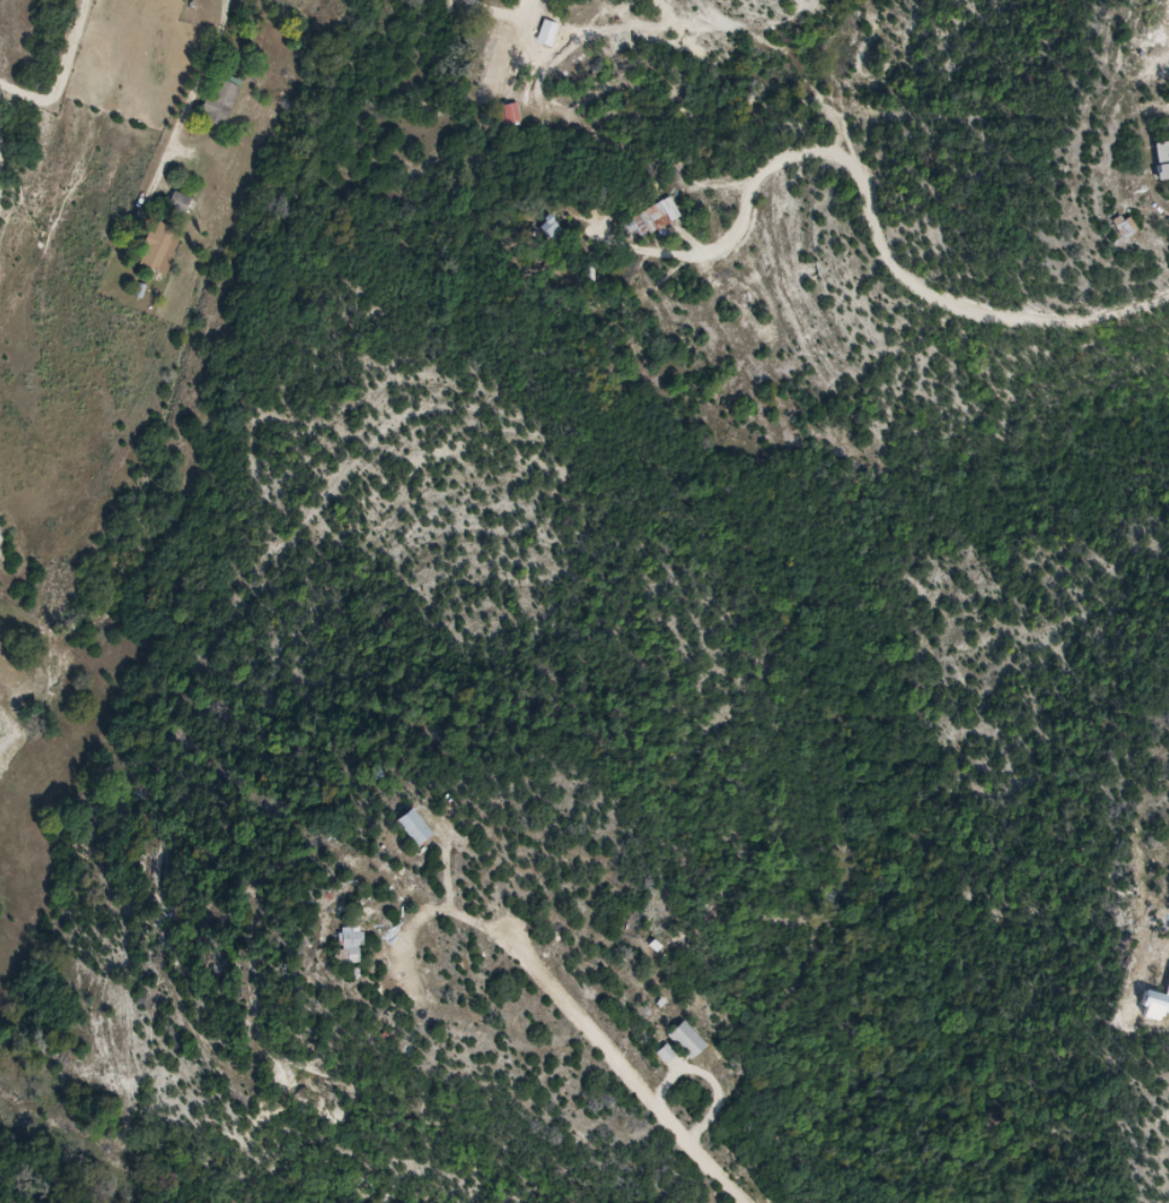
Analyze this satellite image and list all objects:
road: (498, 10)
building: (548, 35)
road: (63, 76)
road: (194, 97)
building: (224, 100)
building: (1163, 162)
road: (748, 202)
building: (181, 204)
building: (650, 223)
building: (556, 229)
building: (163, 249)
road: (924, 292)
building: (353, 947)
building: (689, 1043)
road: (624, 1068)

